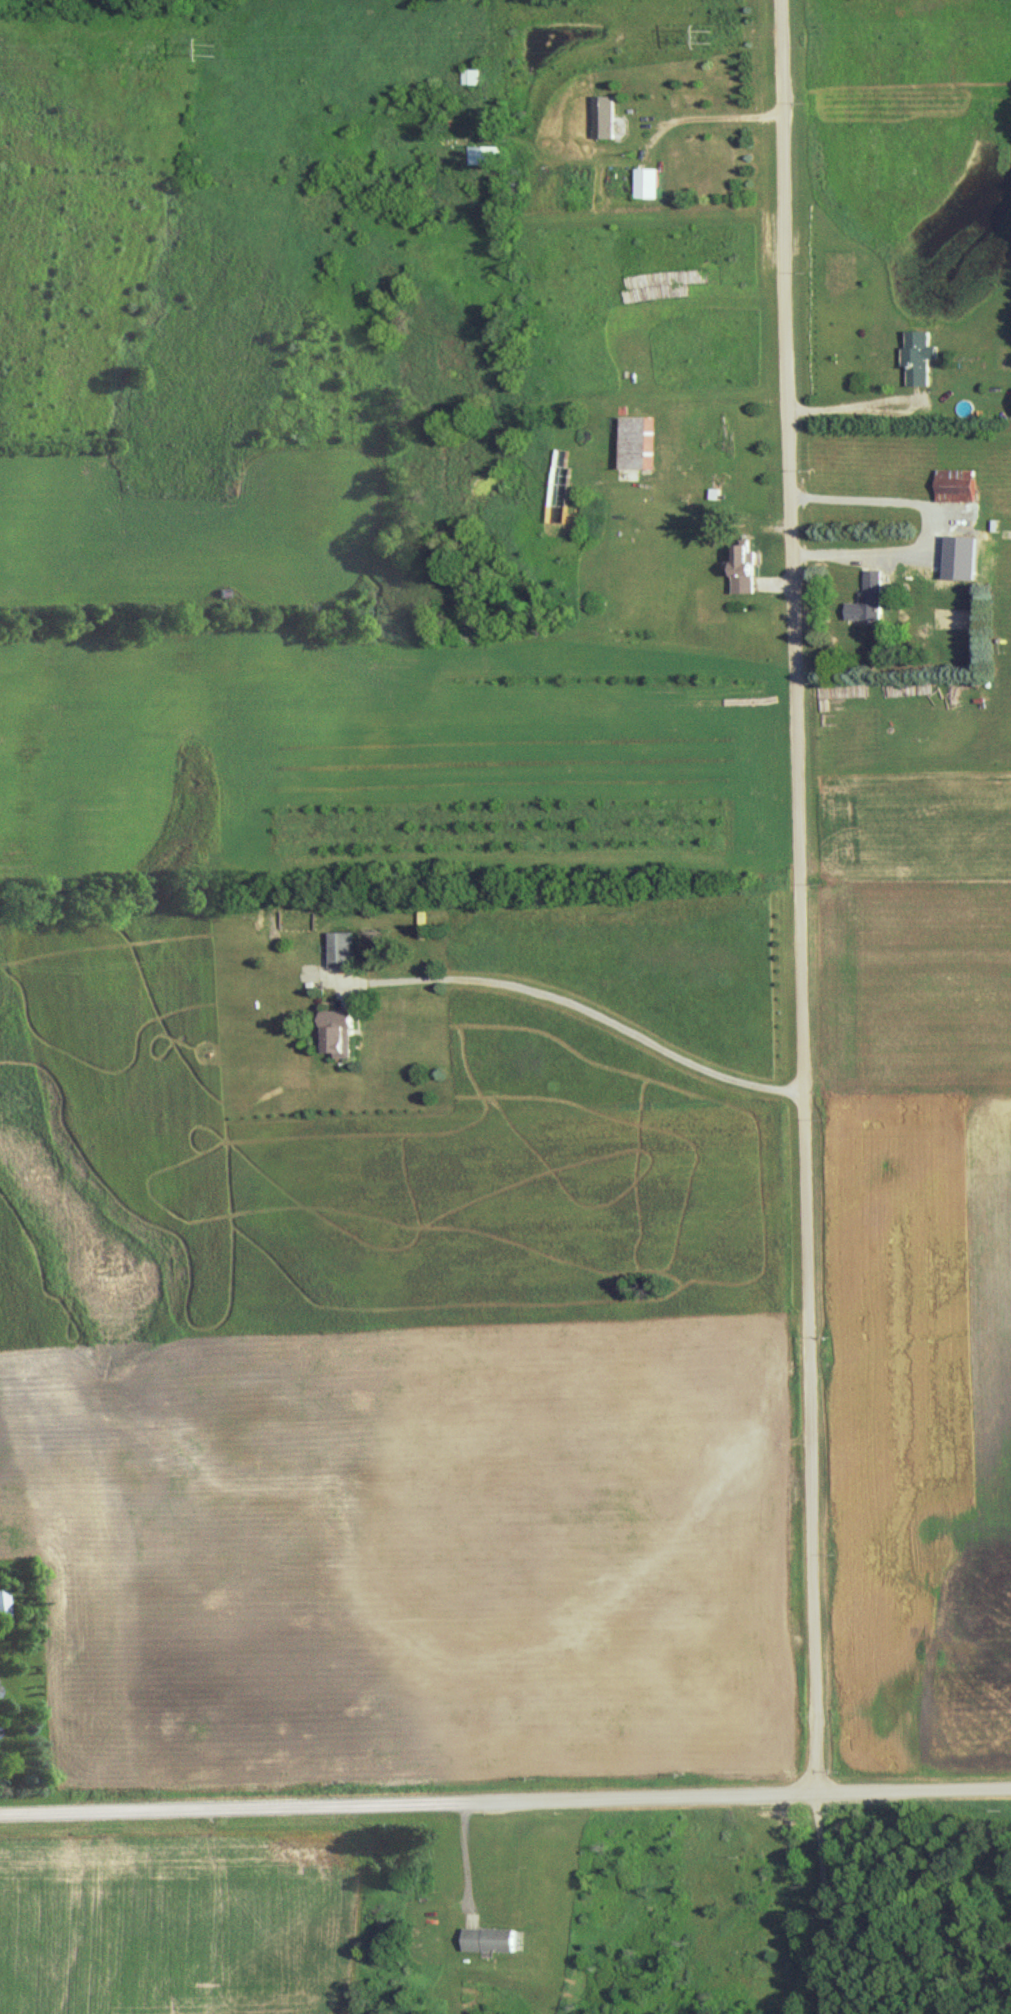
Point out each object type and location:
power tower: (714, 35)
power tower: (212, 51)
building: (472, 75)
building: (609, 115)
building: (485, 154)
building: (651, 182)
building: (925, 354)
building: (637, 440)
building: (961, 482)
building: (967, 555)
building: (747, 566)
building: (871, 596)
road: (797, 944)
building: (345, 947)
building: (342, 1030)
building: (4, 1601)
road: (505, 1802)
road: (465, 1860)
road: (472, 1922)
building: (488, 1944)

